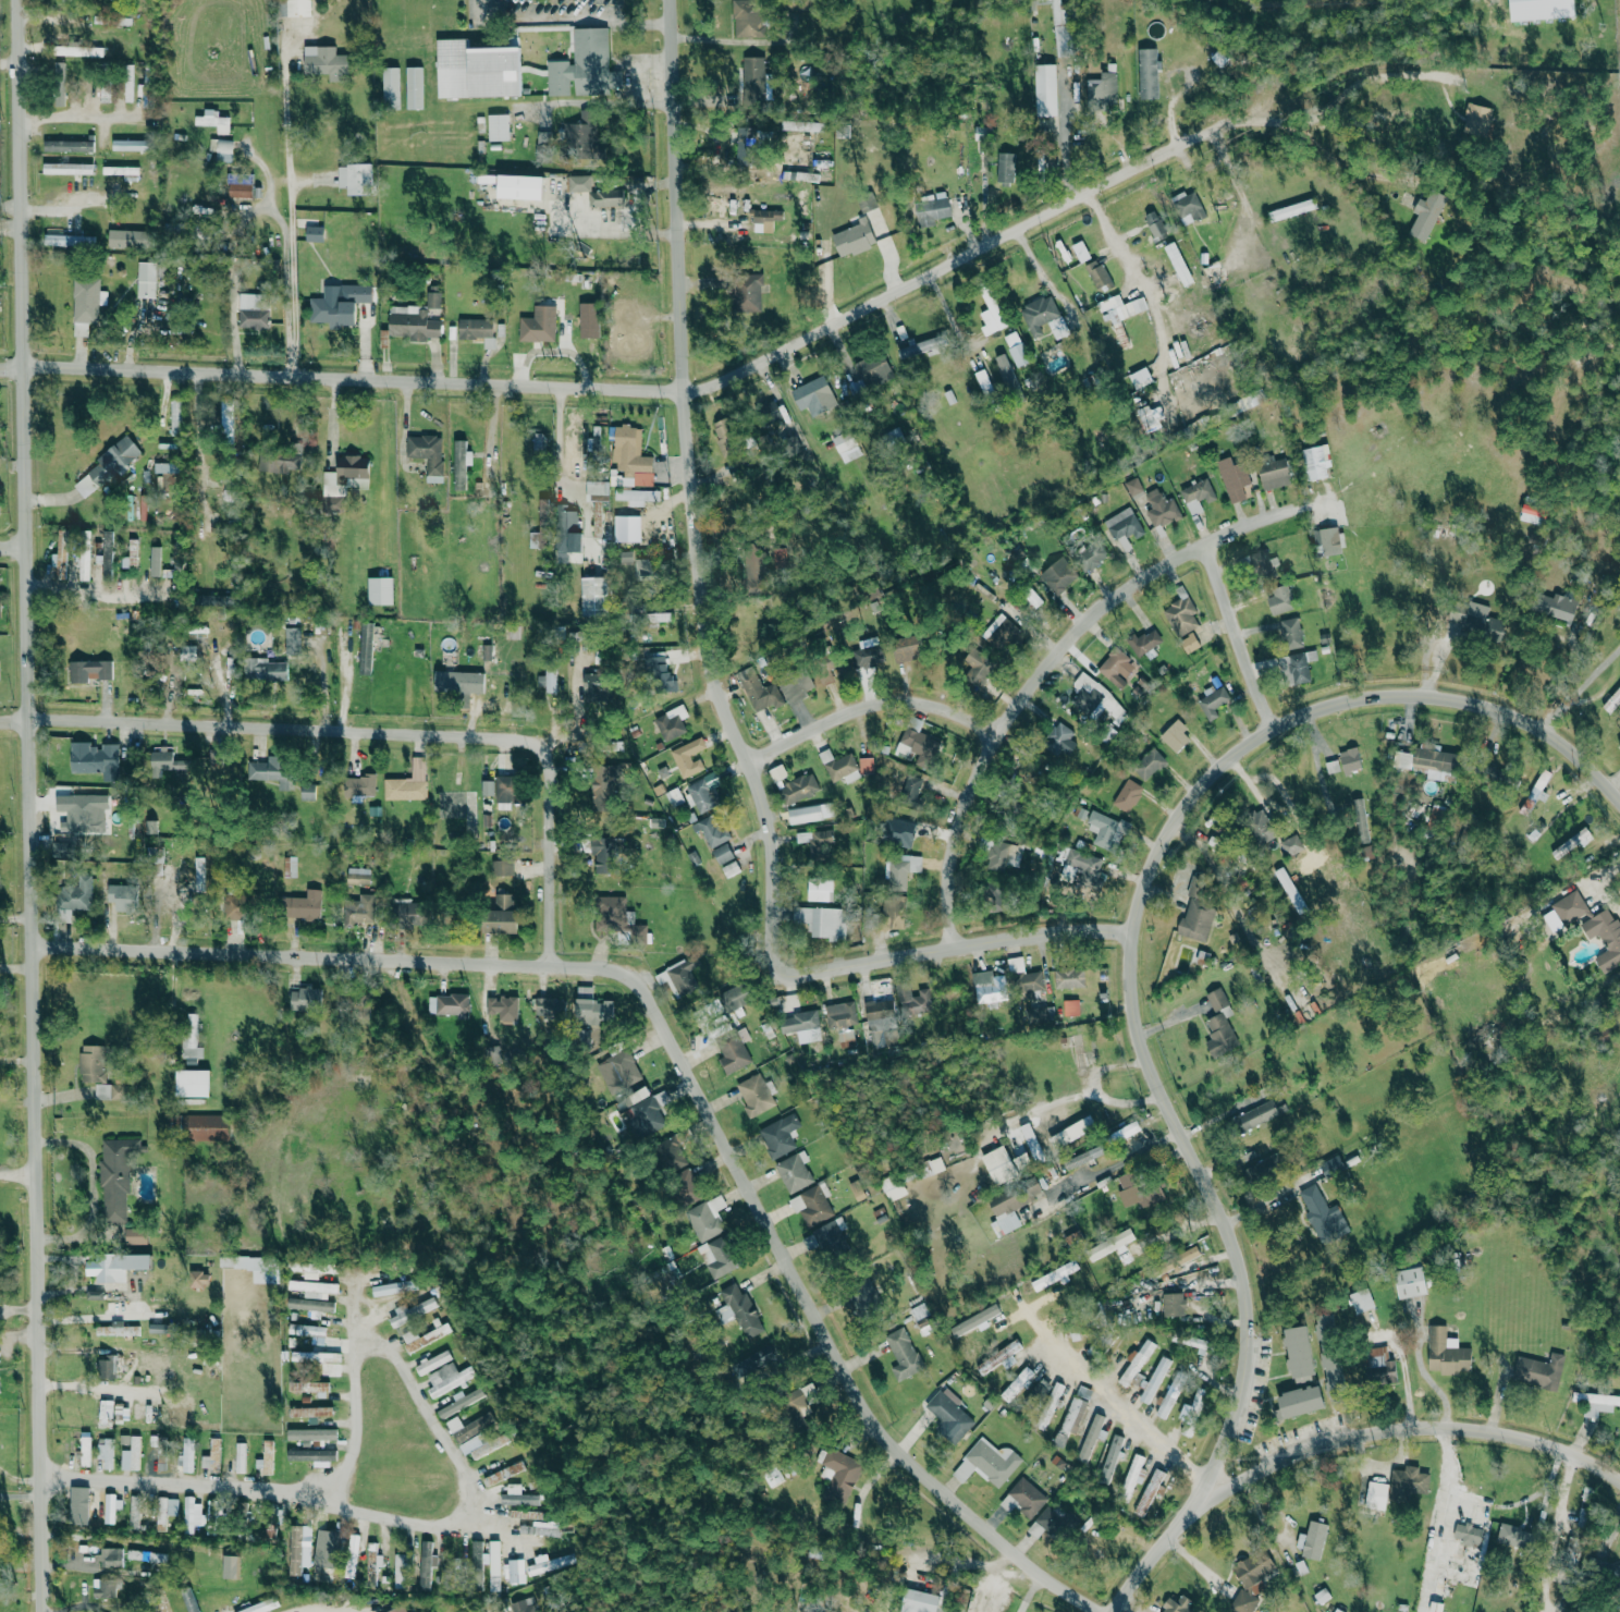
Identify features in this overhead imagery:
building: (293, 8)
building: (1542, 10)
building: (747, 19)
road: (567, 21)
building: (77, 51)
building: (326, 62)
building: (592, 62)
building: (476, 71)
building: (752, 75)
building: (557, 78)
building: (128, 83)
road: (635, 83)
building: (390, 88)
building: (414, 88)
building: (1104, 88)
building: (1045, 90)
building: (105, 94)
road: (1337, 96)
road: (589, 101)
road: (74, 117)
building: (1478, 117)
building: (212, 121)
building: (800, 125)
building: (498, 127)
building: (581, 132)
building: (67, 145)
building: (130, 145)
building: (541, 147)
building: (221, 150)
building: (742, 152)
road: (1345, 167)
building: (1005, 168)
building: (67, 169)
building: (122, 172)
building: (355, 179)
building: (579, 183)
building: (519, 187)
building: (240, 191)
road: (1235, 194)
building: (604, 198)
building: (1182, 207)
building: (935, 210)
building: (1291, 210)
road: (290, 212)
building: (1426, 215)
building: (762, 221)
building: (1154, 225)
building: (314, 233)
building: (127, 239)
building: (852, 239)
building: (69, 241)
building: (1080, 252)
building: (1178, 264)
building: (1097, 274)
building: (146, 280)
road: (1145, 284)
building: (747, 293)
building: (432, 296)
building: (86, 304)
building: (339, 305)
building: (253, 310)
building: (991, 315)
building: (1039, 315)
building: (588, 320)
building: (1120, 323)
building: (409, 325)
building: (538, 325)
building: (477, 330)
building: (1016, 350)
road: (12, 366)
building: (873, 370)
building: (1005, 370)
building: (1140, 377)
road: (685, 384)
road: (660, 387)
building: (813, 396)
building: (225, 412)
building: (770, 412)
building: (174, 416)
building: (724, 435)
building: (844, 441)
building: (793, 444)
building: (458, 448)
building: (427, 454)
building: (280, 457)
building: (629, 459)
building: (112, 461)
building: (1314, 463)
road: (557, 467)
road: (214, 471)
building: (1273, 472)
road: (404, 475)
building: (1234, 479)
building: (343, 480)
building: (458, 480)
building: (1133, 487)
building: (1196, 496)
building: (634, 499)
building: (597, 501)
building: (1161, 509)
building: (1533, 511)
building: (1125, 527)
road: (15, 536)
building: (1327, 539)
building: (107, 552)
building: (84, 554)
building: (131, 554)
building: (1091, 555)
building: (624, 557)
building: (59, 560)
building: (155, 561)
building: (1264, 564)
building: (642, 569)
building: (751, 575)
building: (1058, 575)
building: (380, 590)
road: (98, 596)
building: (593, 596)
building: (1033, 598)
building: (1280, 599)
building: (1558, 607)
building: (1181, 616)
building: (1474, 619)
building: (999, 632)
building: (1291, 633)
road: (1241, 634)
building: (292, 639)
building: (1145, 642)
building: (1190, 643)
building: (907, 647)
building: (366, 648)
building: (486, 651)
building: (868, 656)
building: (978, 661)
building: (1117, 667)
building: (1296, 667)
road: (1048, 668)
building: (263, 669)
building: (90, 670)
building: (659, 673)
building: (548, 680)
building: (458, 682)
building: (795, 682)
building: (597, 687)
road: (1580, 687)
building: (760, 689)
building: (1087, 693)
building: (1213, 700)
road: (874, 701)
road: (16, 720)
building: (672, 721)
road: (292, 728)
building: (1175, 735)
building: (1060, 740)
building: (919, 744)
building: (600, 745)
building: (1619, 746)
building: (688, 755)
building: (93, 757)
building: (1350, 760)
building: (1429, 762)
building: (1149, 764)
building: (837, 765)
building: (866, 765)
road: (1316, 765)
building: (1333, 766)
building: (271, 770)
building: (408, 782)
building: (603, 784)
building: (359, 785)
building: (487, 787)
building: (503, 787)
building: (910, 787)
building: (798, 789)
building: (704, 790)
building: (309, 792)
building: (1128, 795)
building: (674, 796)
road: (34, 806)
building: (82, 810)
building: (808, 813)
building: (1360, 820)
building: (1260, 826)
building: (1105, 829)
building: (711, 830)
building: (899, 831)
building: (817, 843)
building: (1571, 843)
building: (1291, 844)
building: (722, 853)
building: (1366, 853)
building: (602, 854)
building: (993, 855)
road: (555, 857)
building: (290, 866)
building: (502, 867)
building: (731, 868)
road: (771, 868)
building: (900, 869)
building: (198, 874)
building: (358, 876)
building: (819, 889)
building: (73, 896)
building: (122, 896)
building: (993, 896)
building: (299, 905)
building: (232, 906)
building: (358, 909)
building: (894, 911)
building: (1196, 913)
building: (404, 914)
building: (500, 915)
road: (17, 916)
building: (624, 918)
building: (822, 920)
road: (1139, 920)
road: (959, 948)
building: (1069, 978)
building: (679, 979)
building: (1024, 979)
building: (989, 987)
building: (305, 998)
building: (734, 998)
building: (1216, 999)
building: (911, 1000)
building: (449, 1004)
building: (503, 1007)
building: (550, 1007)
building: (591, 1007)
building: (1071, 1007)
building: (1038, 1016)
building: (842, 1019)
building: (799, 1022)
building: (881, 1024)
building: (1219, 1035)
building: (189, 1040)
building: (733, 1053)
building: (1078, 1054)
building: (90, 1063)
road: (684, 1066)
building: (621, 1071)
building: (192, 1083)
building: (106, 1091)
building: (754, 1095)
building: (645, 1112)
building: (1254, 1116)
building: (204, 1127)
building: (1071, 1132)
building: (778, 1136)
building: (671, 1153)
building: (1082, 1157)
road: (1120, 1161)
building: (998, 1165)
building: (795, 1172)
road: (21, 1173)
building: (115, 1177)
building: (685, 1187)
building: (893, 1187)
building: (857, 1189)
building: (1138, 1193)
building: (811, 1206)
building: (1010, 1207)
building: (1323, 1216)
building: (703, 1222)
road: (1178, 1229)
building: (135, 1236)
building: (830, 1237)
building: (1113, 1247)
building: (716, 1257)
building: (1180, 1258)
building: (254, 1267)
building: (314, 1268)
building: (106, 1269)
building: (1055, 1274)
building: (198, 1279)
building: (1410, 1282)
building: (314, 1285)
building: (395, 1285)
building: (94, 1294)
building: (861, 1296)
building: (1361, 1300)
building: (309, 1304)
building: (1174, 1304)
building: (413, 1310)
building: (738, 1310)
building: (168, 1326)
building: (116, 1329)
building: (307, 1330)
road: (17, 1333)
building: (426, 1336)
building: (1193, 1342)
building: (1446, 1353)
building: (903, 1354)
building: (1299, 1354)
building: (314, 1355)
building: (1138, 1358)
building: (433, 1360)
building: (765, 1361)
building: (110, 1364)
building: (1382, 1366)
building: (1539, 1371)
building: (451, 1379)
building: (1154, 1379)
building: (1018, 1383)
building: (311, 1384)
building: (1042, 1387)
building: (1170, 1394)
building: (463, 1399)
building: (1299, 1402)
building: (1596, 1403)
building: (797, 1408)
building: (106, 1409)
building: (312, 1410)
building: (1192, 1412)
road: (1136, 1414)
building: (948, 1417)
building: (1070, 1418)
building: (475, 1424)
building: (312, 1432)
building: (1090, 1438)
building: (123, 1439)
road: (1339, 1439)
building: (490, 1444)
building: (85, 1445)
building: (134, 1451)
building: (161, 1451)
building: (188, 1452)
building: (105, 1453)
building: (214, 1453)
building: (237, 1453)
building: (312, 1454)
building: (267, 1455)
building: (987, 1463)
building: (504, 1471)
building: (1131, 1475)
building: (837, 1476)
road: (476, 1483)
building: (1400, 1485)
road: (293, 1489)
building: (1149, 1492)
building: (1376, 1494)
building: (523, 1498)
building: (1023, 1499)
road: (1487, 1504)
building: (77, 1505)
building: (87, 1506)
building: (109, 1510)
building: (132, 1512)
building: (162, 1513)
building: (189, 1514)
building: (531, 1514)
building: (211, 1515)
building: (240, 1515)
building: (271, 1519)
building: (1051, 1524)
road: (1554, 1526)
building: (540, 1529)
building: (1468, 1534)
building: (1514, 1536)
building: (1312, 1540)
building: (297, 1548)
building: (146, 1554)
building: (111, 1555)
building: (476, 1555)
building: (351, 1558)
building: (371, 1563)
building: (494, 1563)
building: (552, 1563)
building: (426, 1564)
building: (398, 1568)
building: (513, 1571)
building: (450, 1574)
building: (1251, 1580)
building: (105, 1586)
building: (188, 1599)
building: (918, 1601)
building: (162, 1604)
building: (1177, 1604)
building: (260, 1605)
building: (521, 1605)
road: (324, 1608)
building: (398, 1609)
building: (1337, 1610)

